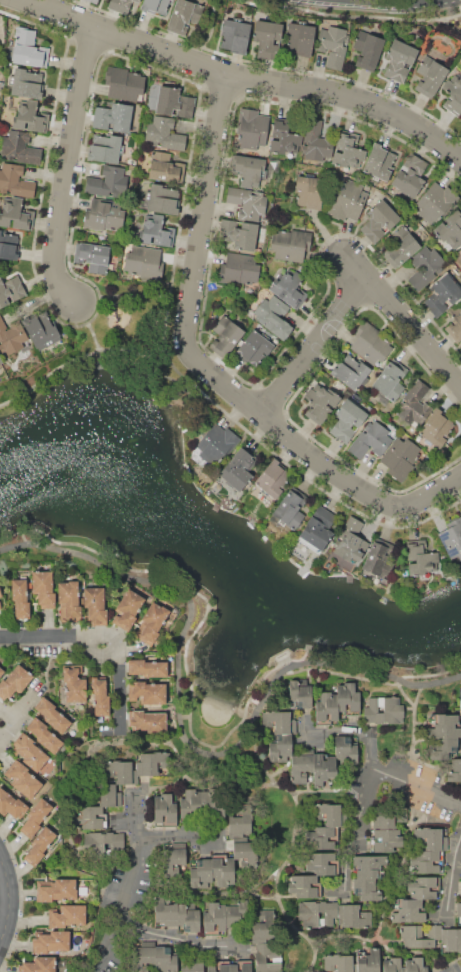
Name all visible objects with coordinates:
building: (93, 1)
road: (376, 1)
building: (120, 5)
building: (156, 7)
building: (184, 15)
building: (235, 36)
building: (268, 39)
building: (300, 39)
building: (333, 45)
building: (28, 48)
building: (367, 49)
building: (400, 59)
road: (248, 76)
building: (430, 76)
building: (27, 83)
building: (123, 83)
building: (453, 96)
building: (173, 102)
building: (113, 116)
building: (30, 118)
building: (252, 128)
building: (165, 134)
building: (284, 137)
building: (316, 140)
building: (20, 148)
building: (105, 148)
building: (348, 150)
building: (131, 161)
building: (381, 161)
road: (71, 167)
building: (162, 167)
building: (250, 170)
building: (410, 175)
building: (15, 181)
building: (108, 182)
building: (310, 191)
building: (162, 199)
building: (348, 201)
building: (247, 202)
building: (434, 202)
building: (16, 214)
building: (105, 214)
building: (379, 220)
building: (450, 229)
building: (156, 231)
building: (239, 233)
building: (290, 245)
building: (401, 245)
building: (9, 246)
building: (459, 254)
building: (93, 257)
road: (197, 259)
building: (144, 263)
building: (426, 266)
building: (239, 269)
building: (289, 288)
building: (10, 290)
building: (443, 294)
building: (273, 317)
building: (455, 323)
road: (88, 325)
road: (402, 327)
building: (42, 330)
building: (225, 335)
building: (11, 336)
building: (371, 343)
building: (460, 345)
building: (253, 348)
road: (92, 351)
road: (312, 352)
building: (0, 361)
building: (350, 372)
building: (391, 380)
building: (320, 401)
building: (414, 405)
building: (348, 419)
building: (436, 428)
building: (418, 438)
building: (371, 440)
building: (217, 444)
building: (400, 457)
building: (238, 469)
building: (274, 479)
road: (357, 490)
building: (460, 504)
building: (289, 509)
building: (460, 511)
building: (316, 530)
building: (350, 540)
building: (452, 542)
building: (421, 558)
building: (378, 559)
building: (43, 588)
building: (0, 593)
building: (20, 598)
building: (70, 598)
building: (95, 605)
building: (0, 606)
building: (127, 608)
building: (152, 622)
road: (100, 636)
building: (147, 668)
building: (1, 671)
building: (14, 682)
building: (74, 685)
building: (146, 692)
building: (300, 693)
building: (100, 697)
building: (349, 698)
building: (327, 708)
building: (460, 708)
building: (383, 710)
building: (52, 715)
building: (146, 720)
building: (279, 721)
road: (353, 730)
road: (180, 732)
road: (5, 733)
building: (444, 733)
building: (45, 736)
building: (280, 747)
building: (346, 747)
building: (30, 752)
road: (85, 757)
building: (136, 767)
building: (300, 768)
building: (323, 768)
building: (454, 770)
building: (23, 779)
road: (164, 784)
road: (417, 789)
road: (330, 791)
building: (12, 805)
building: (200, 806)
building: (97, 809)
building: (165, 810)
building: (330, 815)
building: (35, 817)
building: (383, 820)
building: (240, 824)
road: (353, 829)
building: (322, 838)
building: (432, 838)
road: (177, 839)
building: (385, 840)
building: (40, 845)
building: (94, 846)
road: (287, 850)
building: (244, 851)
building: (173, 858)
building: (426, 862)
building: (322, 863)
building: (368, 866)
building: (211, 872)
road: (450, 873)
road: (130, 883)
building: (304, 886)
building: (423, 887)
building: (368, 888)
building: (57, 891)
road: (12, 900)
building: (177, 911)
building: (409, 911)
building: (459, 913)
building: (319, 914)
building: (67, 915)
building: (355, 916)
building: (223, 917)
building: (263, 926)
building: (420, 935)
road: (169, 937)
building: (451, 939)
building: (51, 942)
building: (268, 957)
building: (156, 958)
building: (368, 961)
building: (340, 963)
building: (39, 964)
building: (415, 964)
building: (393, 965)
building: (219, 966)
building: (241, 966)
building: (192, 967)

